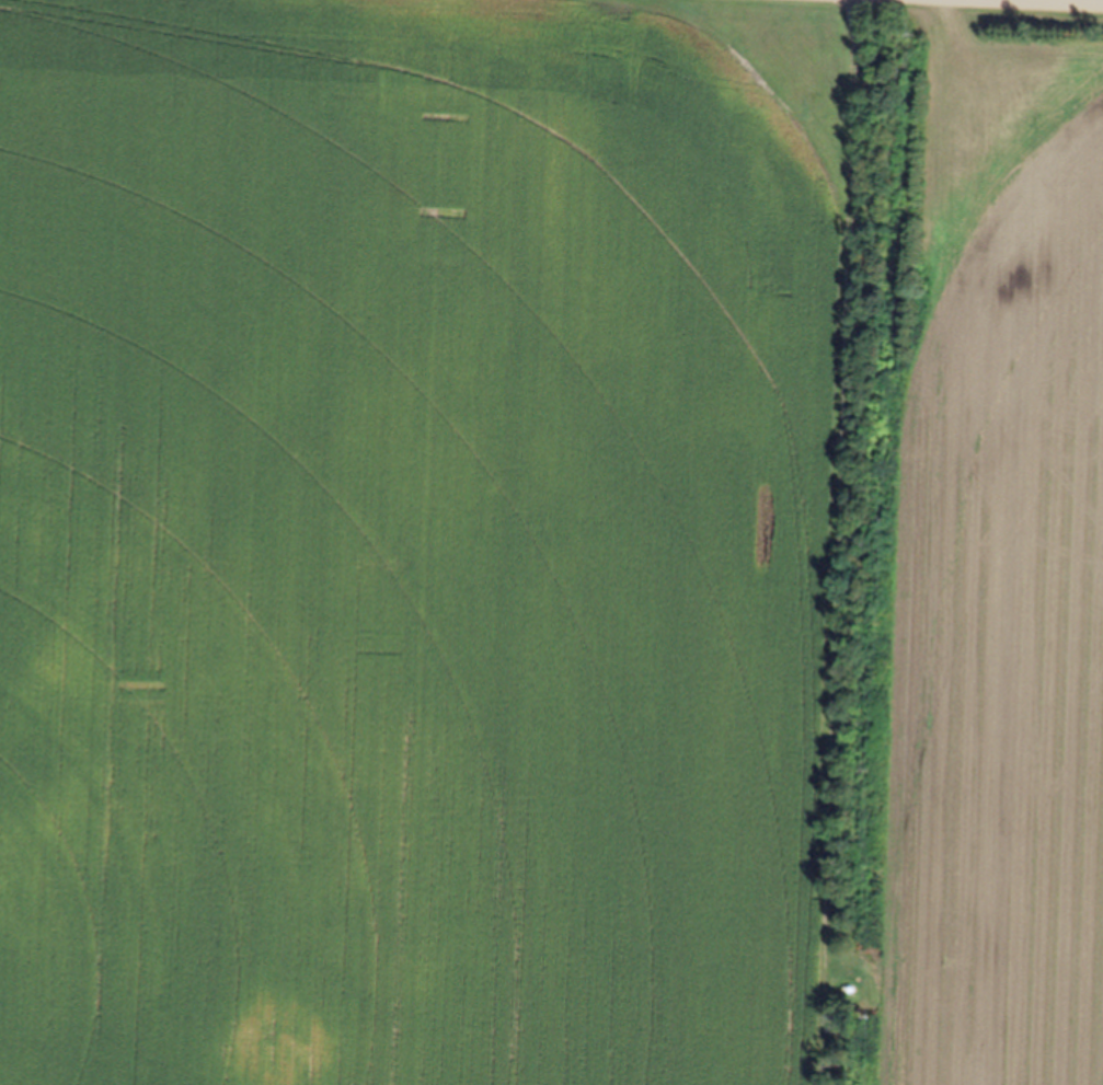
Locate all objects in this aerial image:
road: (1070, 1)
crop: (550, 543)

